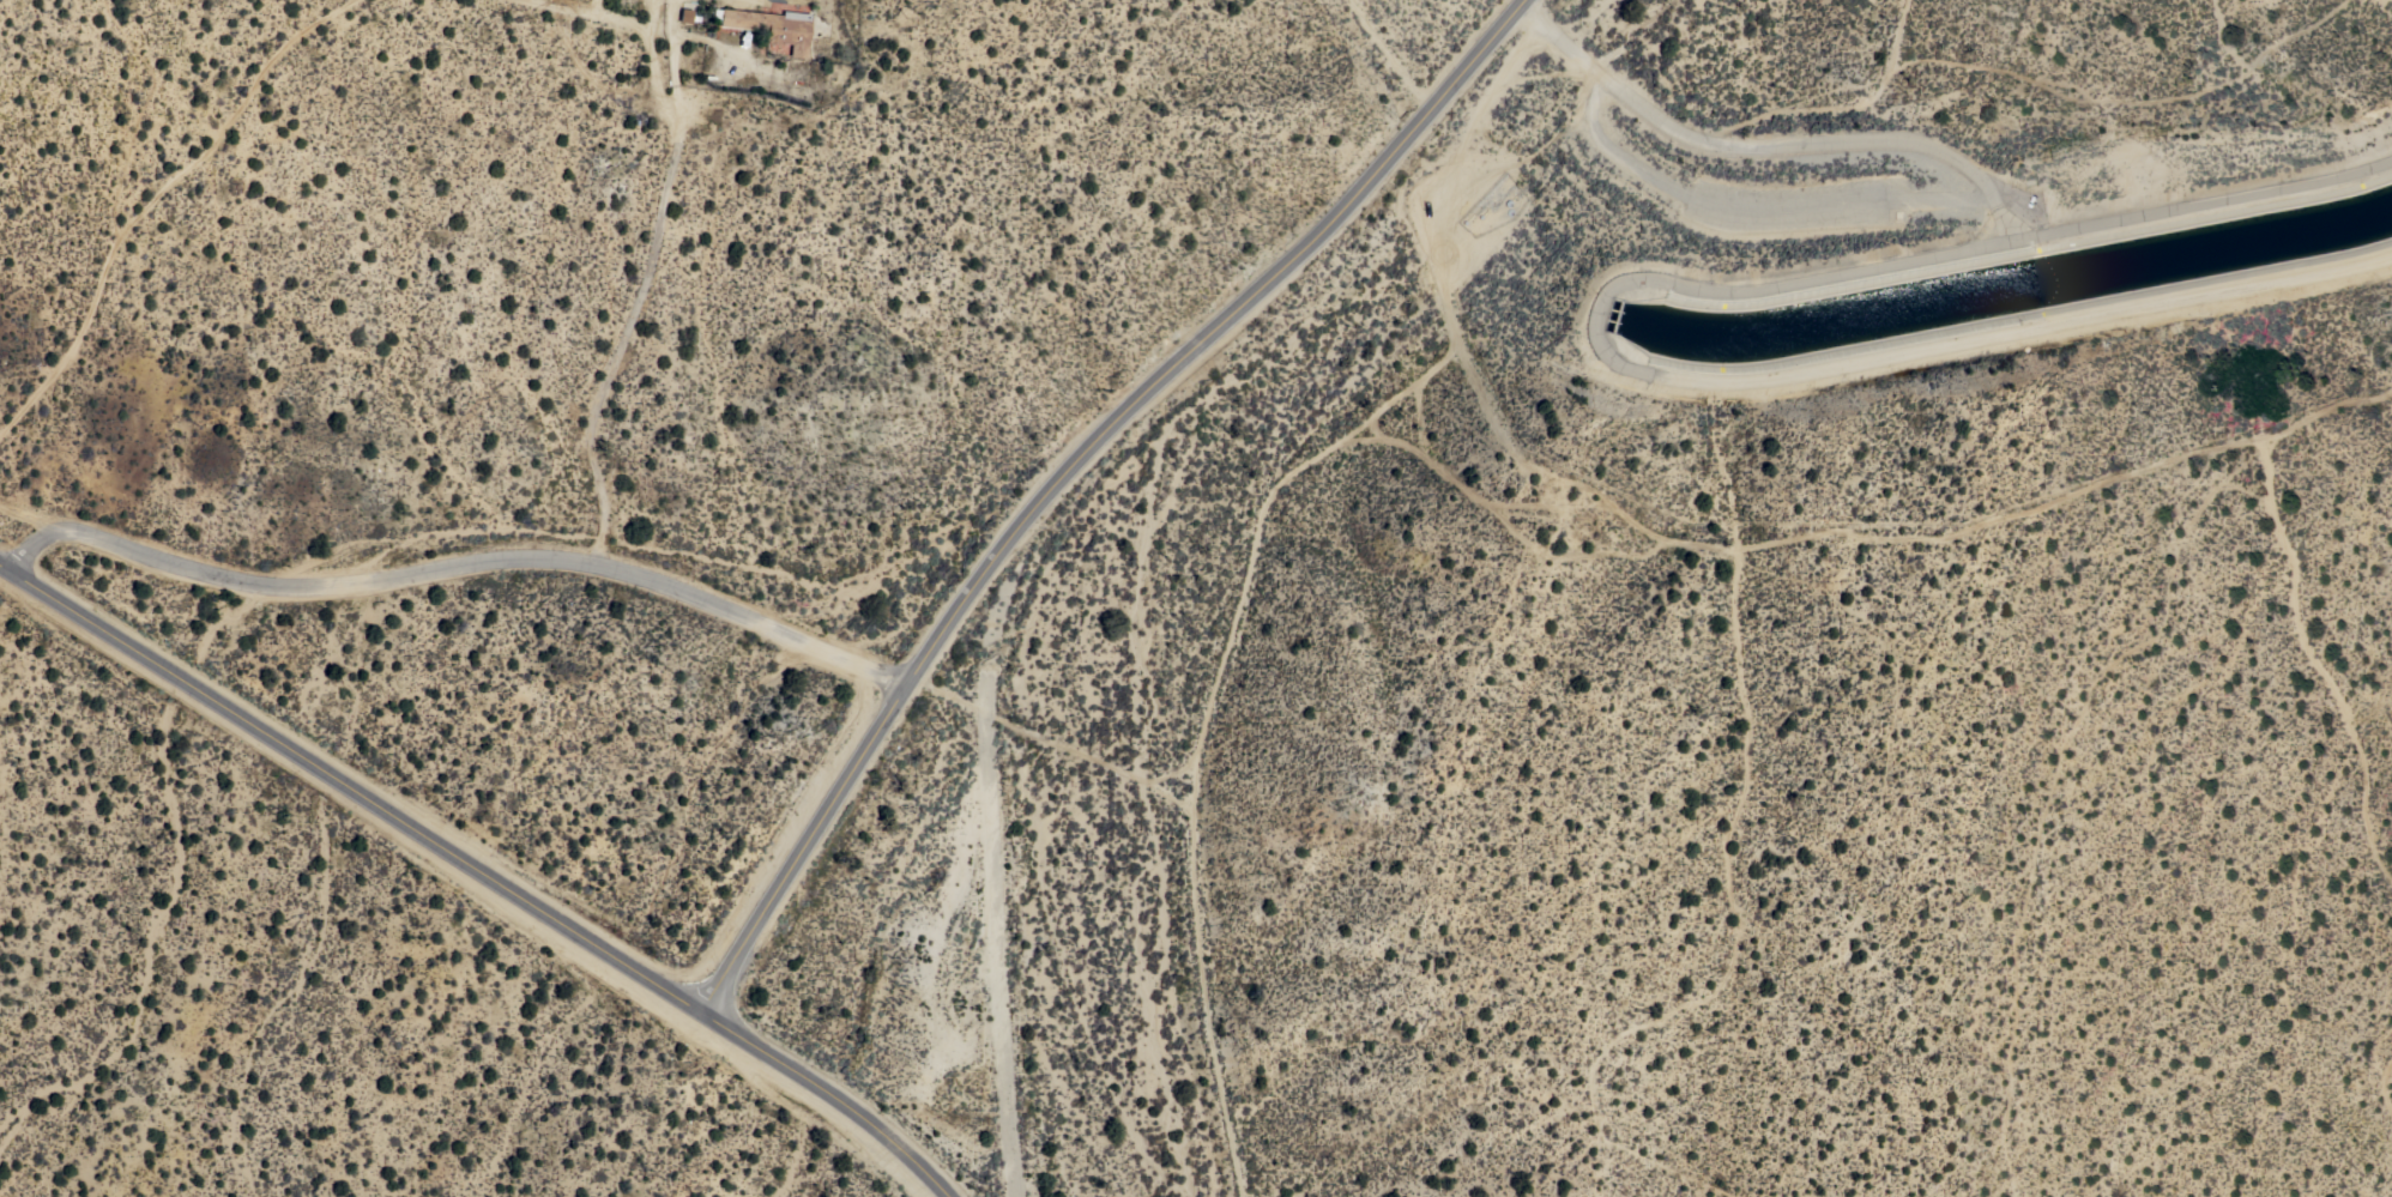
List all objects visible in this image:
building: (685, 16)
building: (769, 26)
road: (639, 29)
road: (151, 200)
road: (642, 295)
road: (1068, 468)
road: (36, 515)
road: (459, 564)
road: (350, 787)
road: (830, 1094)

